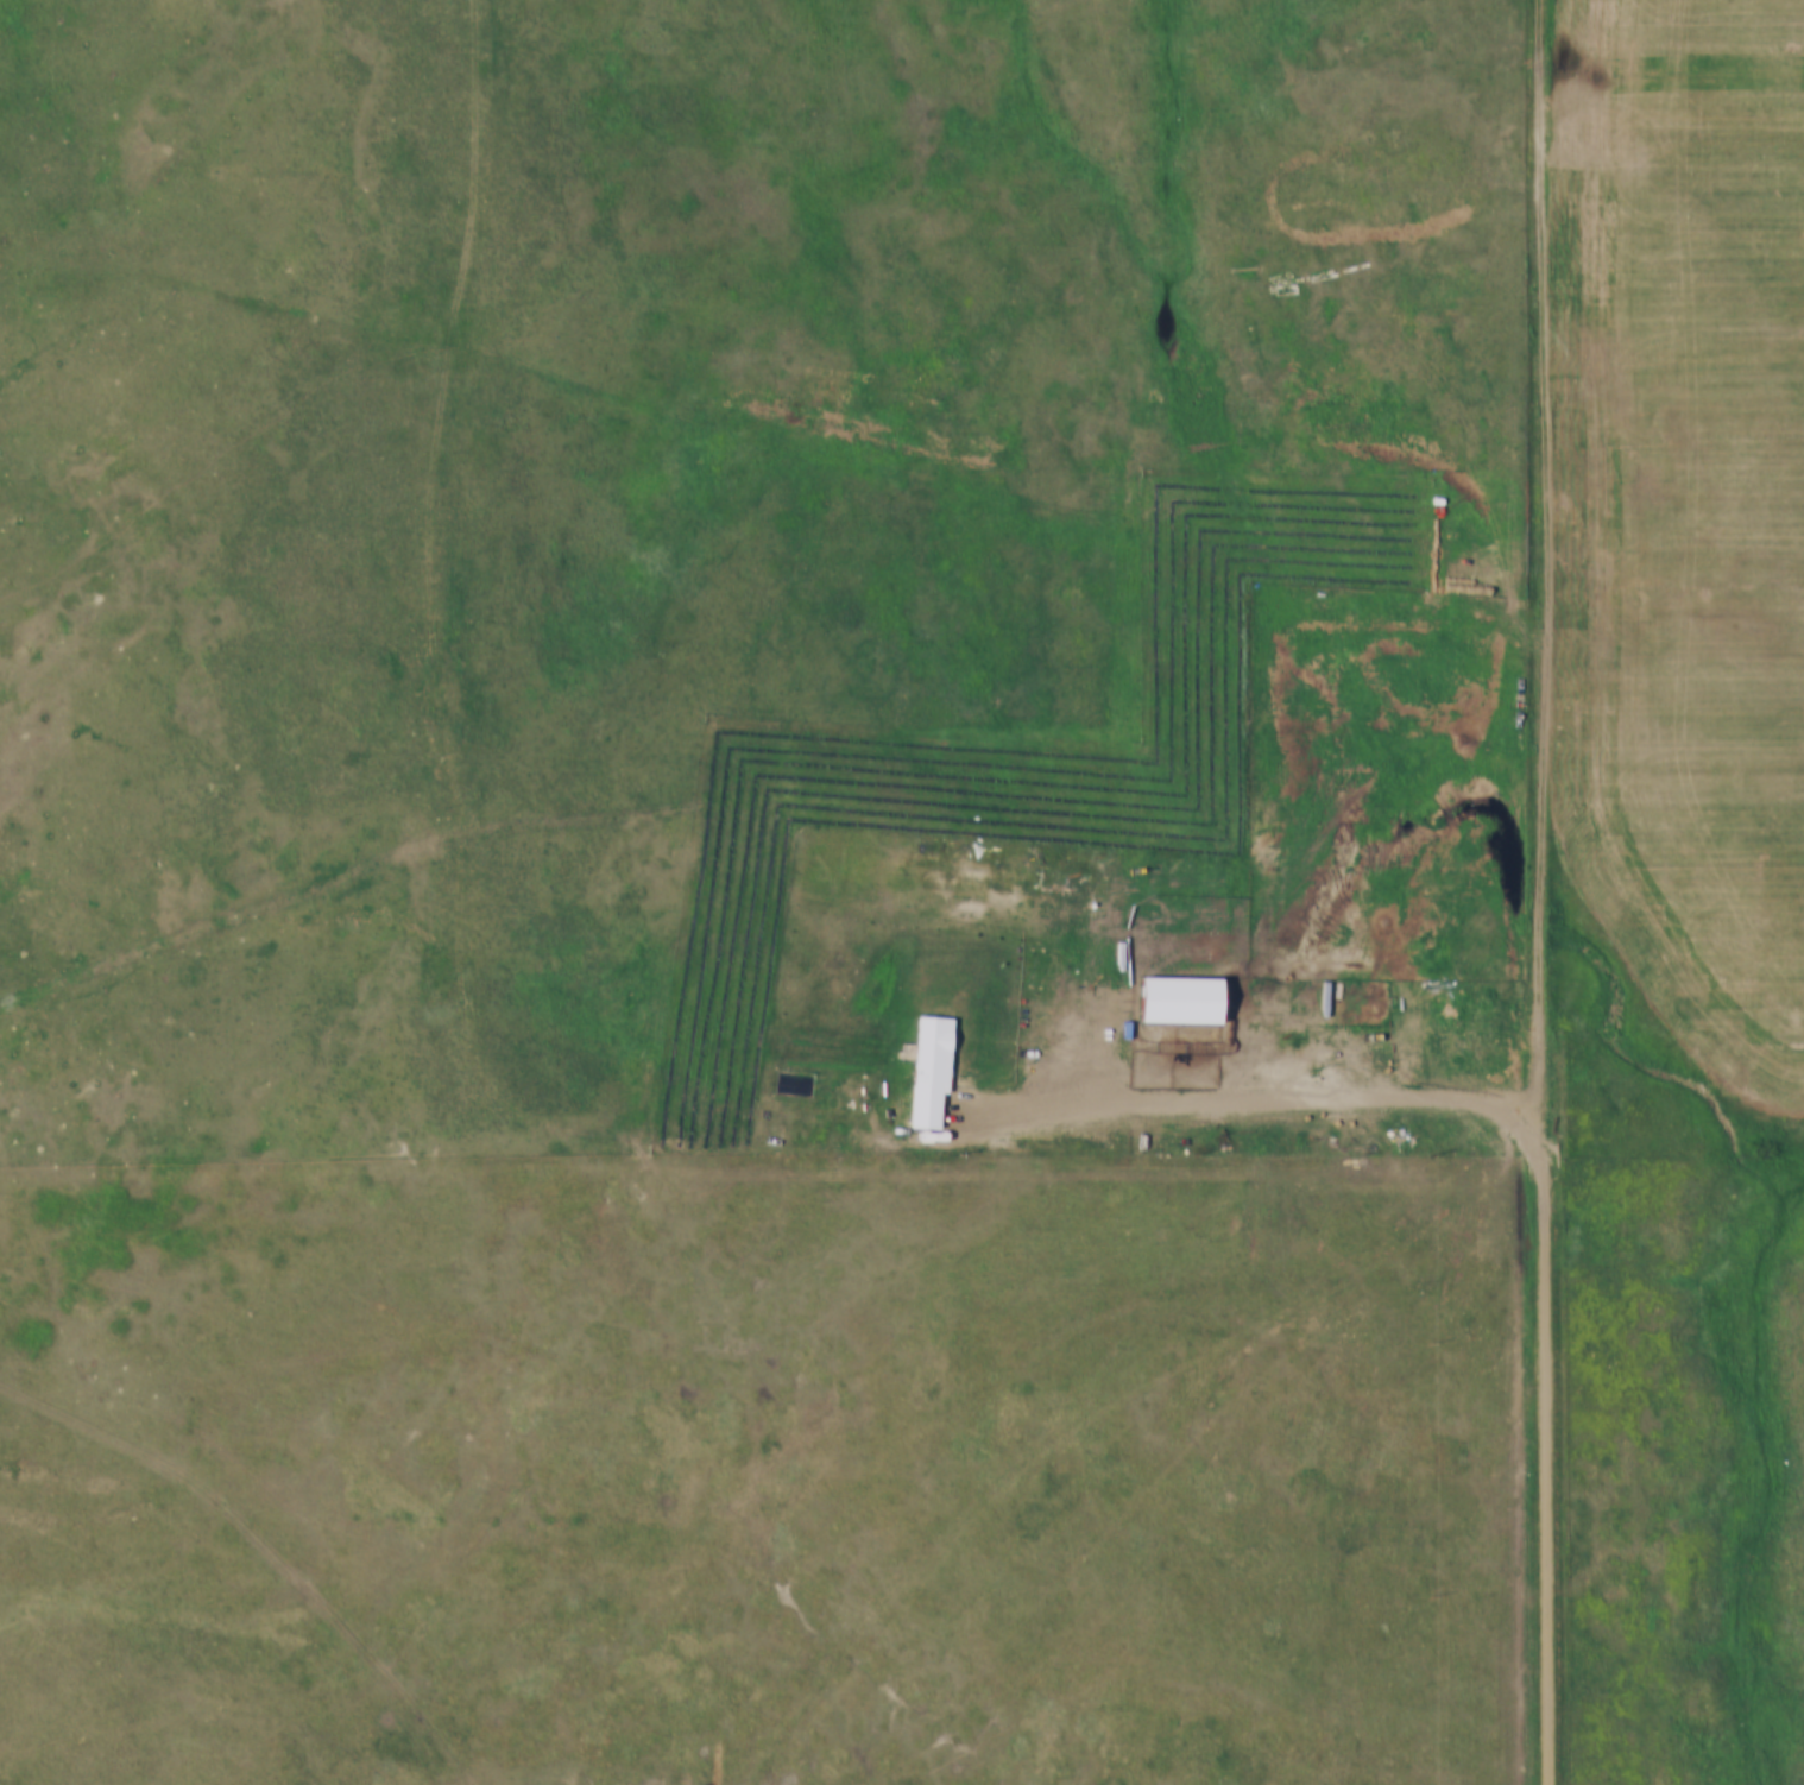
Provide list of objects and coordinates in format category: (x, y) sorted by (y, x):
road: (1546, 554)
building: (1171, 988)
building: (1424, 1018)
building: (920, 1060)
road: (1251, 1085)
road: (902, 1152)
road: (1551, 1446)
road: (267, 1545)

